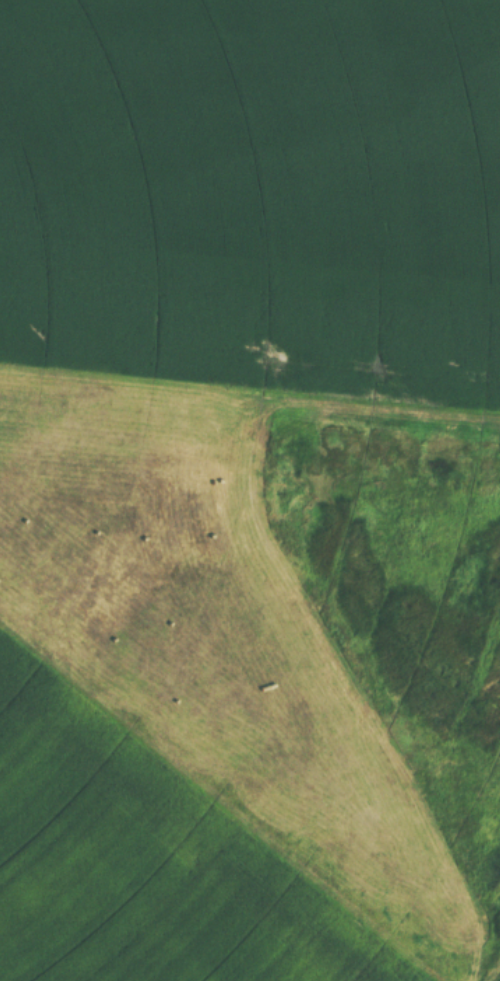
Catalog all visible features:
building: (83, 9)
building: (4, 35)

